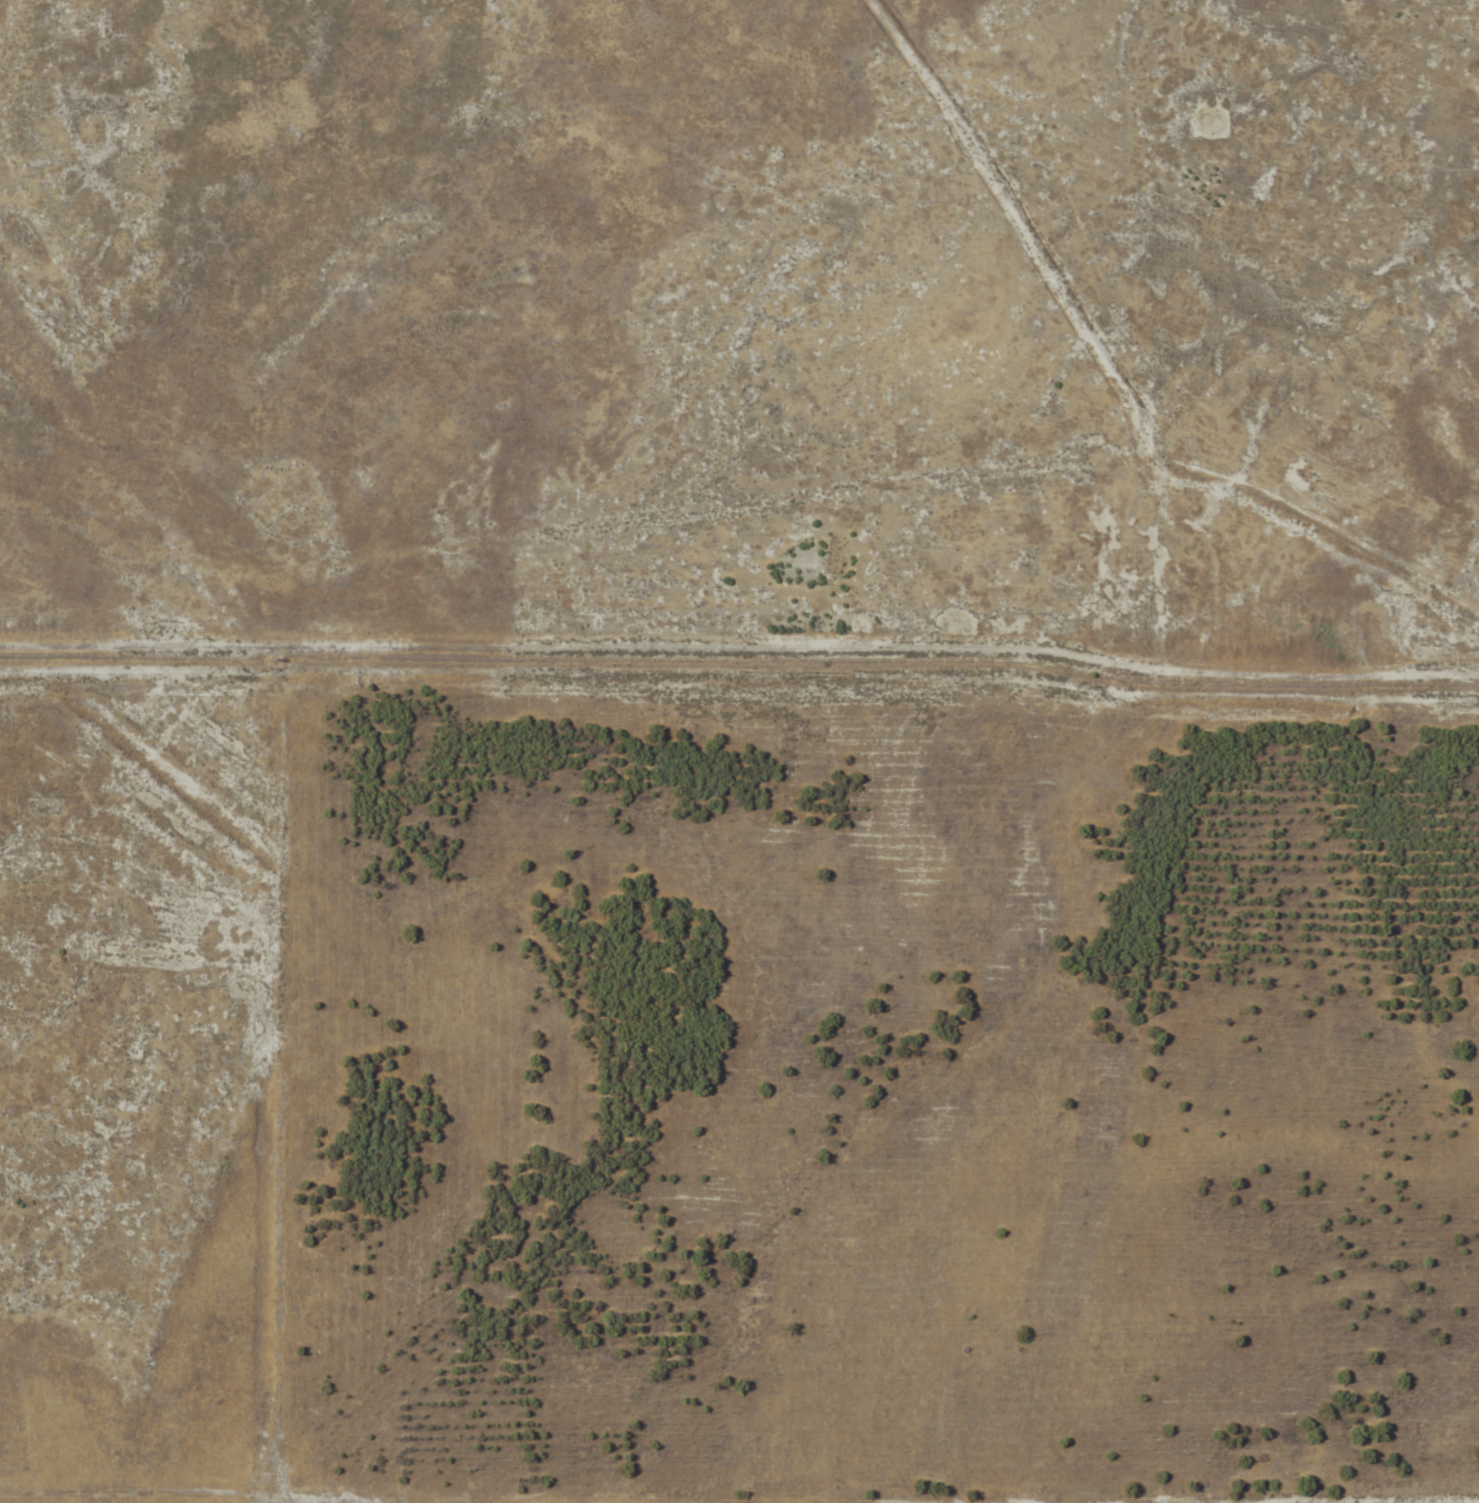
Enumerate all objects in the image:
road: (48, 1243)

